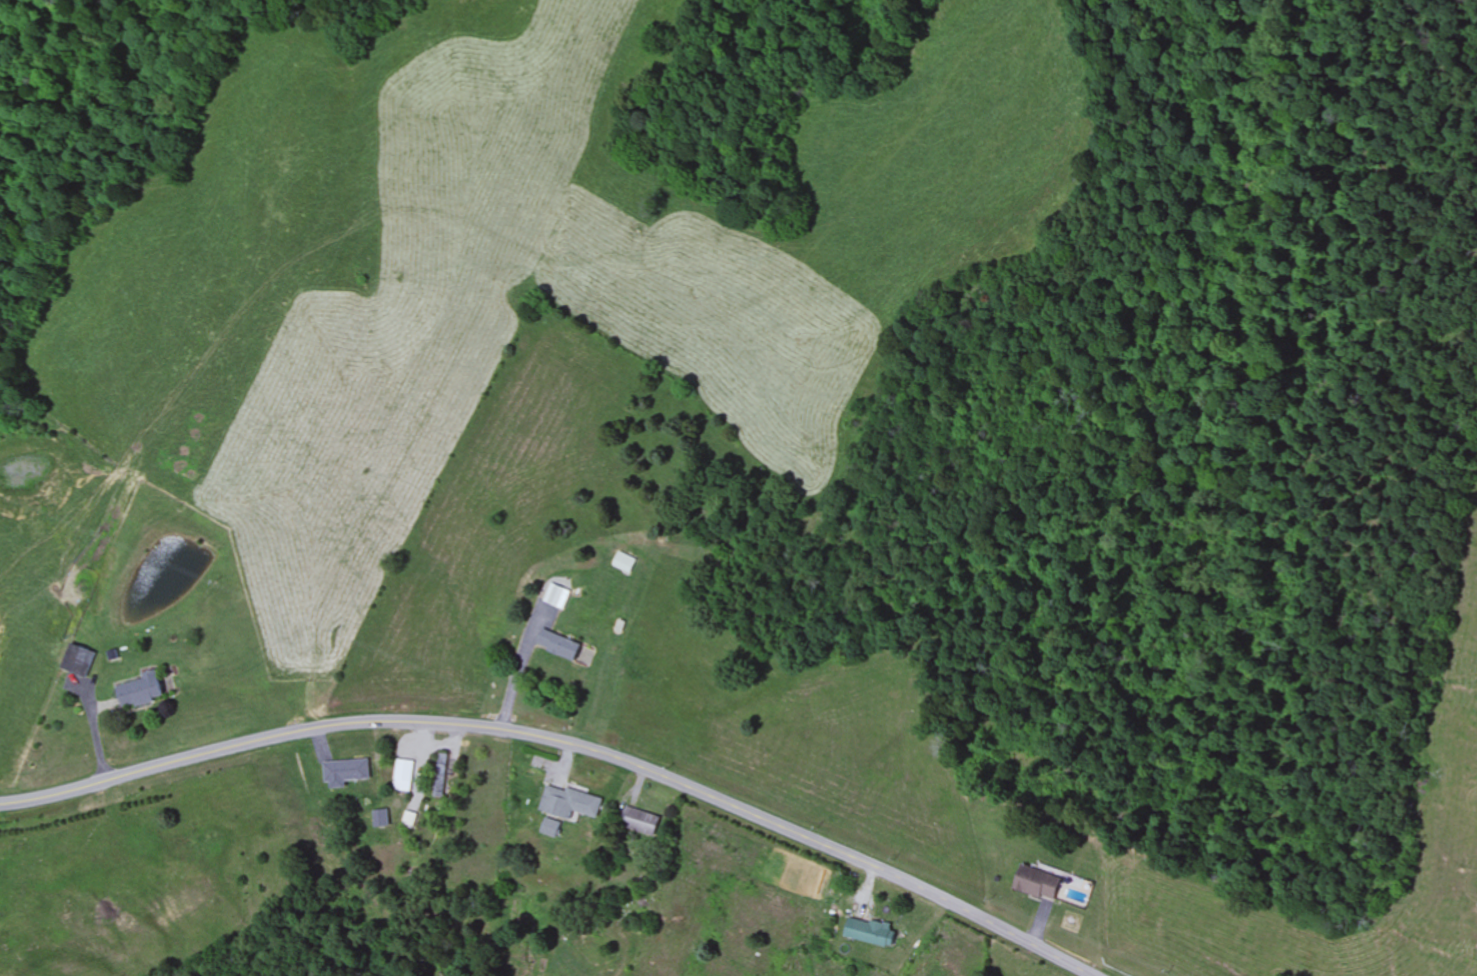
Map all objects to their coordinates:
building: (626, 563)
building: (558, 596)
building: (561, 644)
building: (79, 660)
building: (143, 690)
road: (566, 742)
building: (348, 771)
building: (405, 774)
building: (442, 775)
building: (570, 802)
building: (382, 817)
building: (410, 819)
building: (641, 821)
building: (1040, 883)
building: (872, 931)

